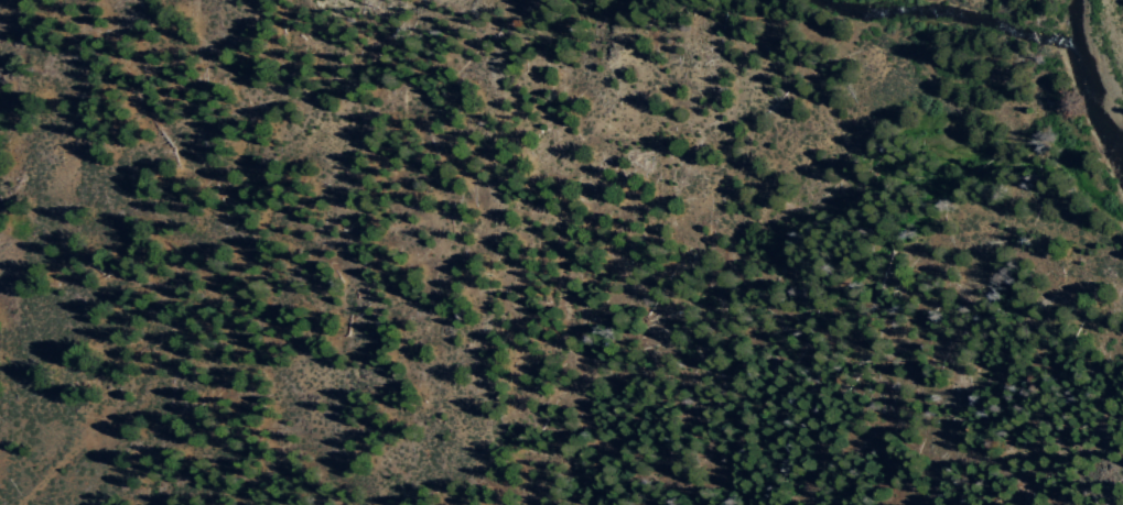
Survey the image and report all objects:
river: (1092, 80)

